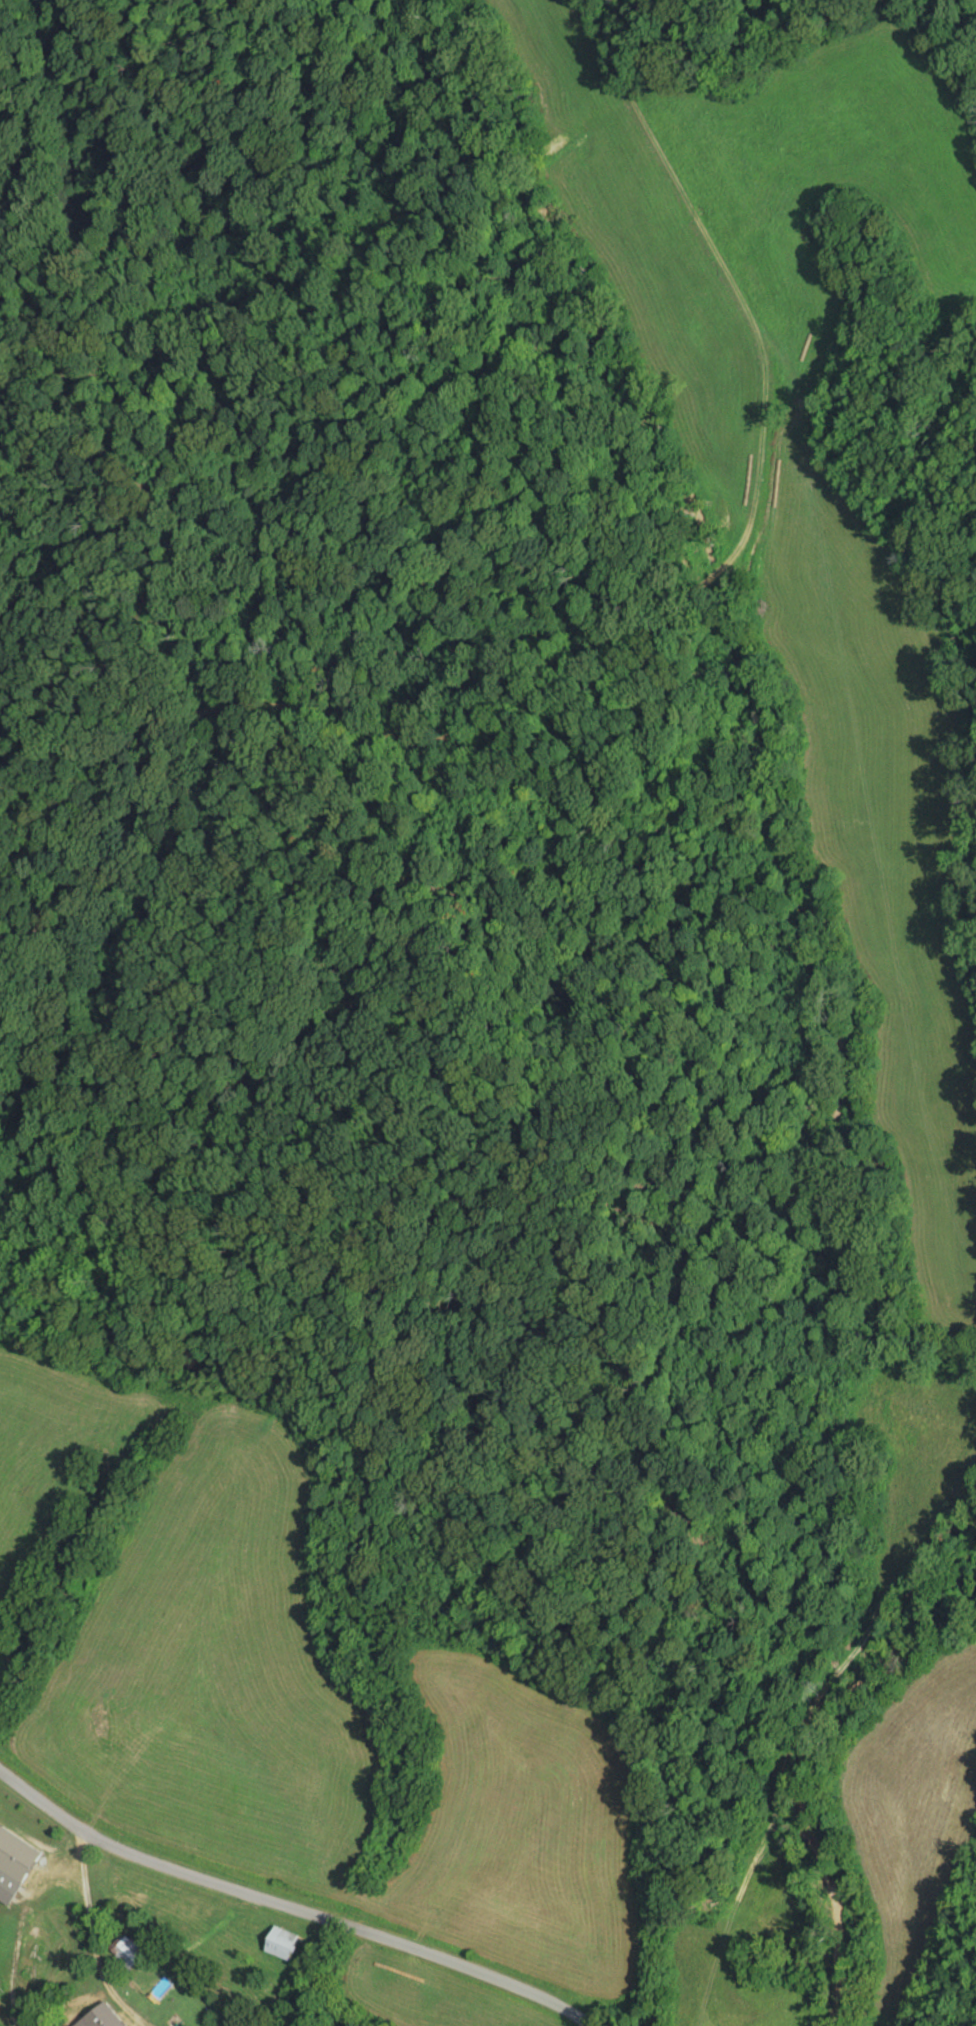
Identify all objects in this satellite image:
building: (14, 1862)
road: (299, 1890)
road: (95, 1930)
building: (282, 1942)
building: (130, 1951)
building: (98, 2019)

